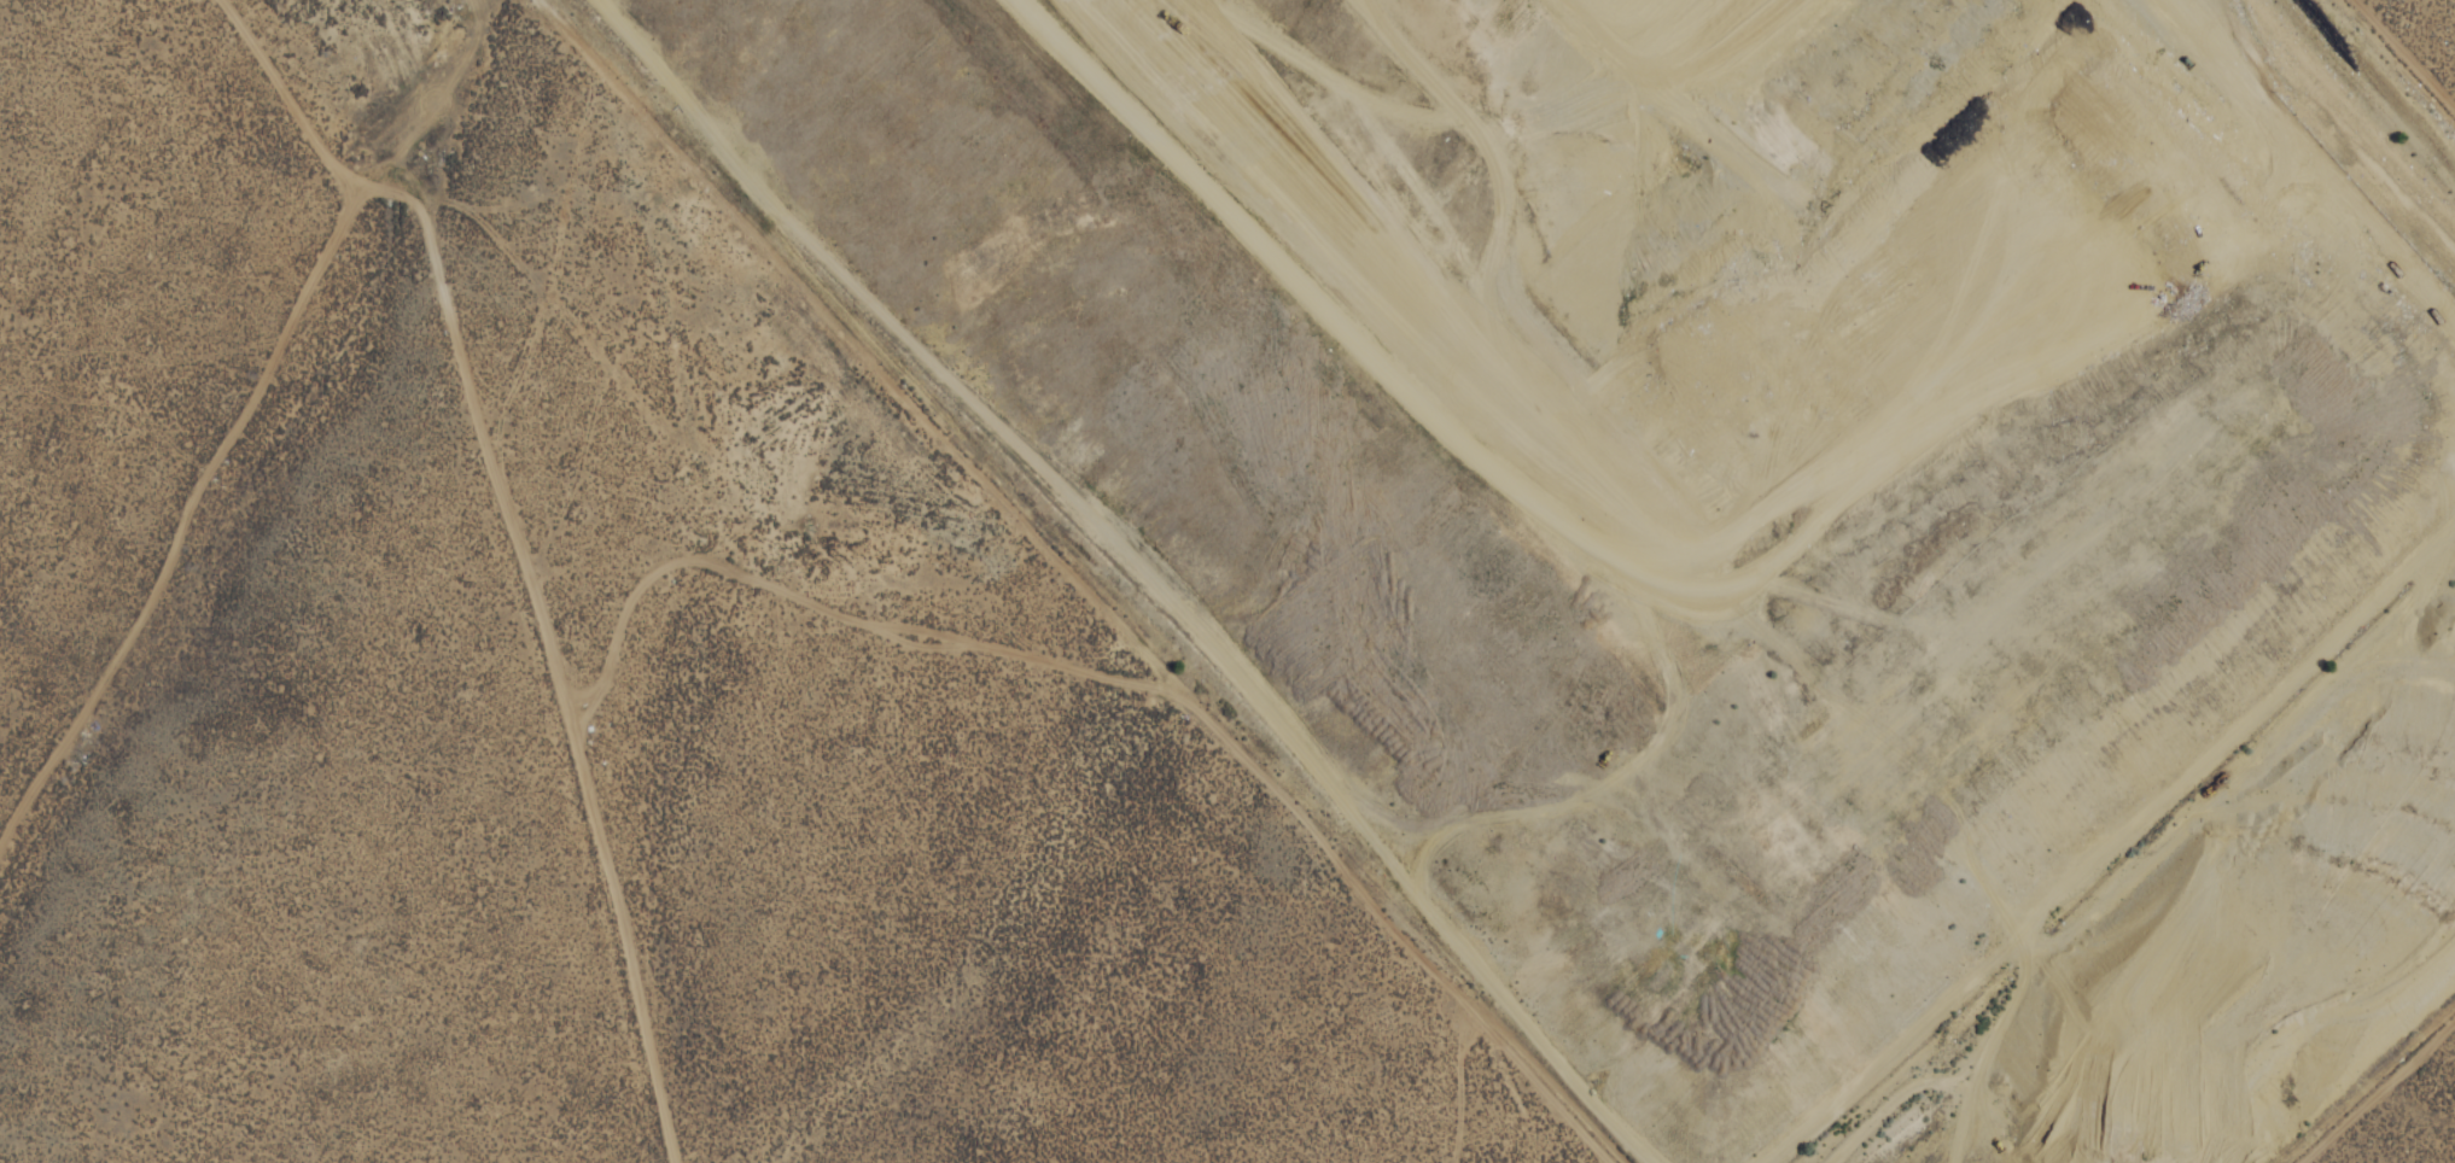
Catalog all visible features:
landfill: (1715, 504)

